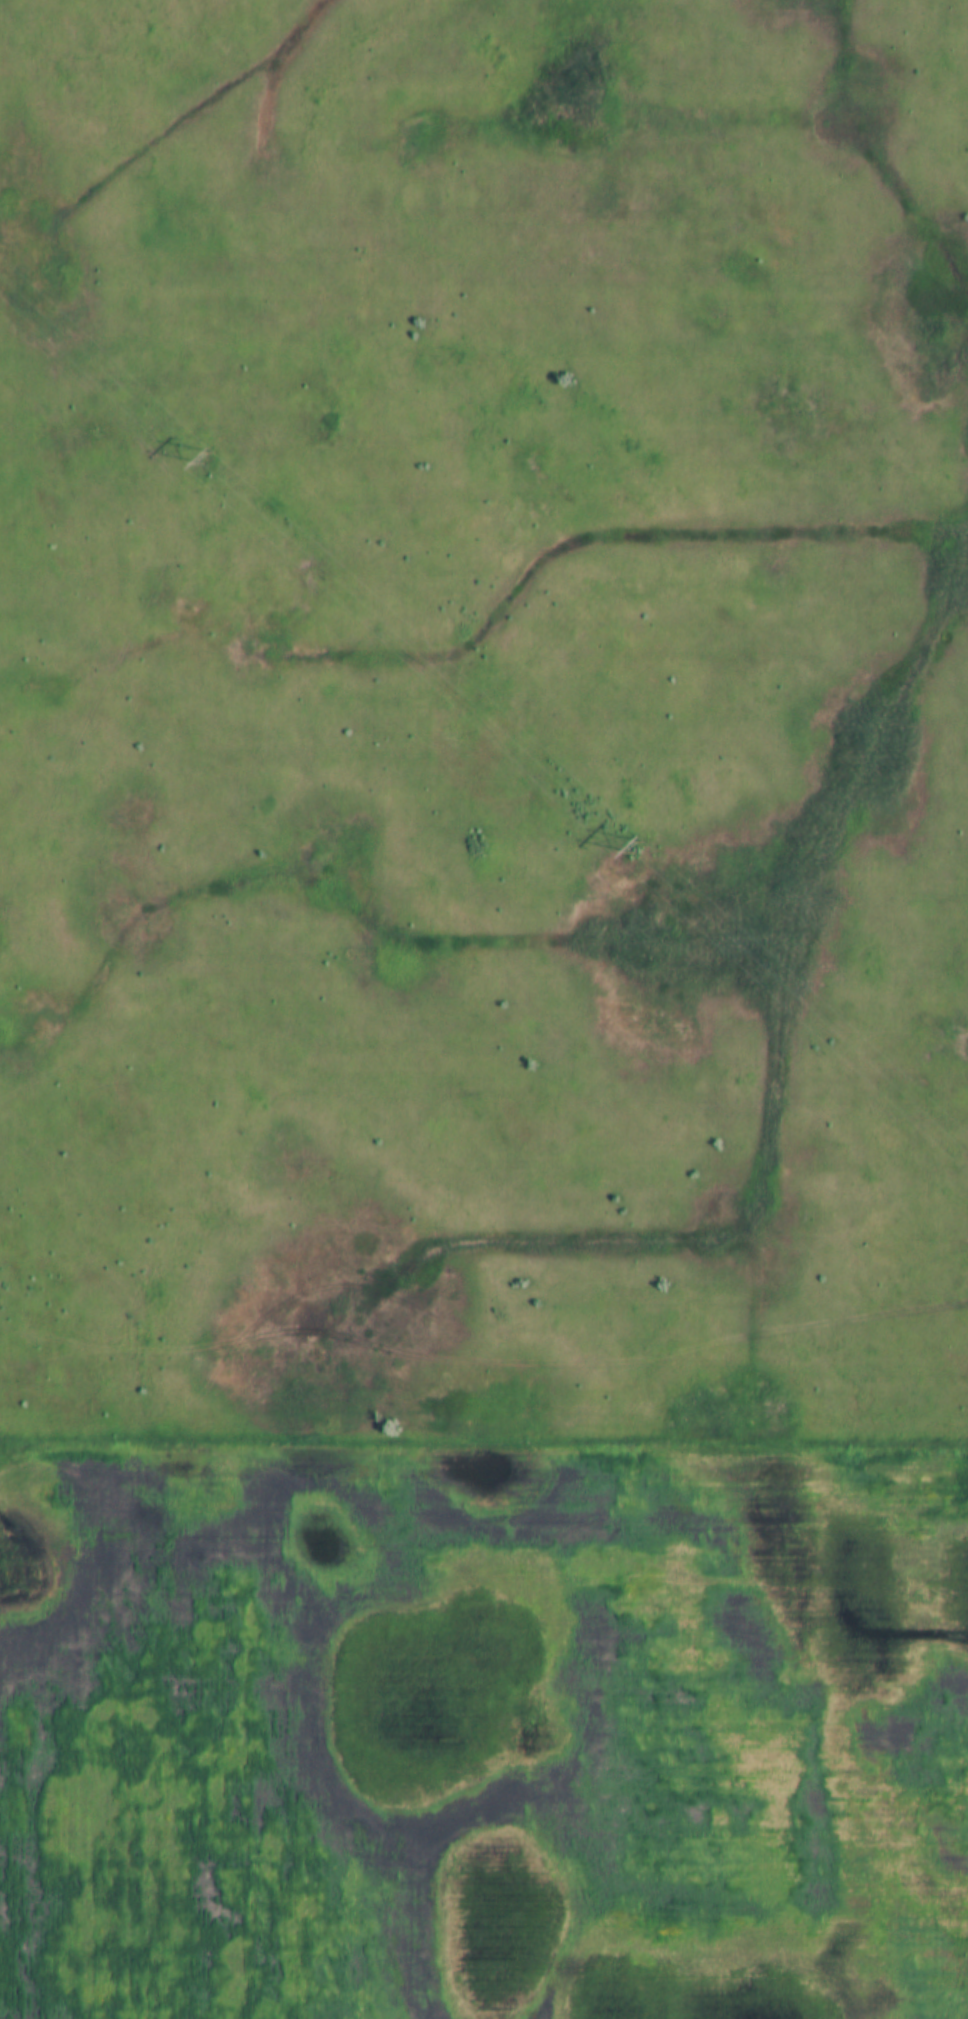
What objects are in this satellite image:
power tower: (210, 457)
power tower: (636, 844)

